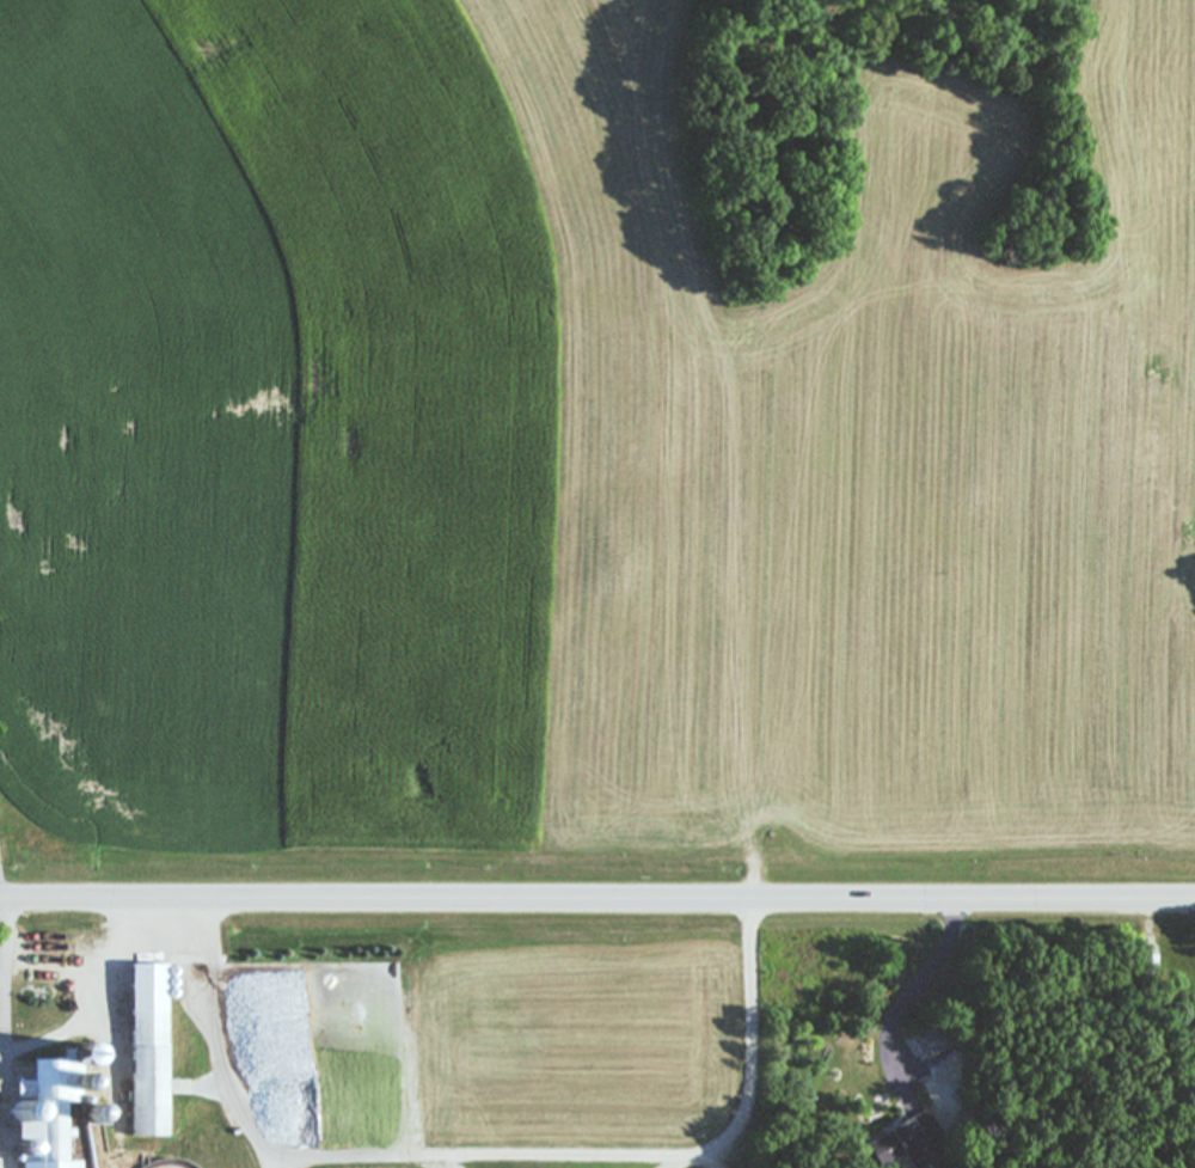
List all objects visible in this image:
road: (596, 900)
road: (174, 927)
building: (1147, 966)
road: (918, 985)
road: (7, 1033)
building: (921, 1044)
building: (143, 1047)
building: (48, 1107)
building: (900, 1142)
road: (620, 1152)

